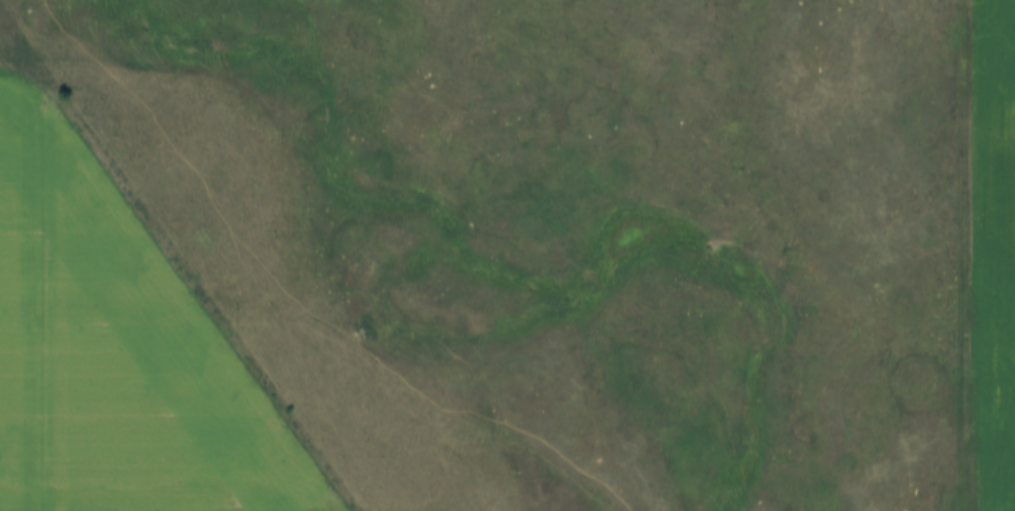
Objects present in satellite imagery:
road: (969, 255)

